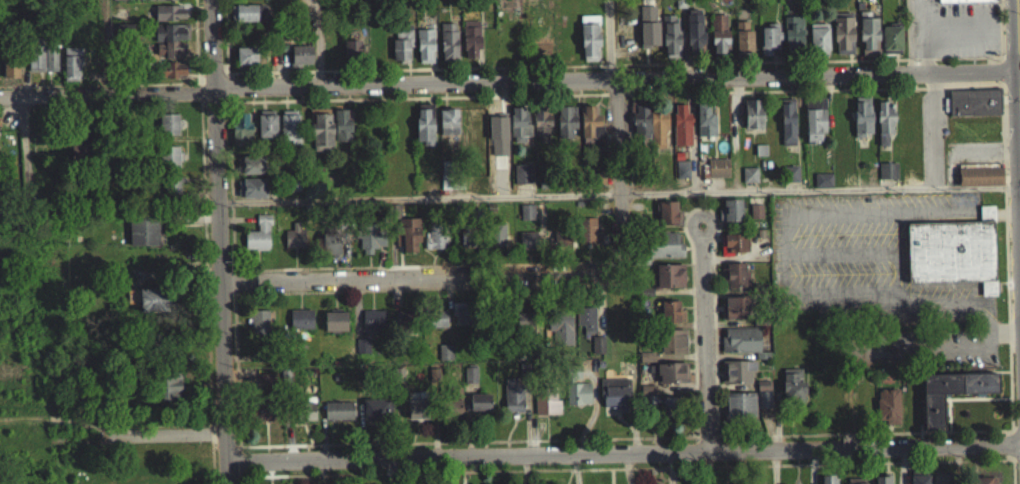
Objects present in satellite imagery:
building: (284, 0)
building: (248, 2)
building: (125, 3)
building: (165, 3)
building: (965, 4)
road: (107, 10)
building: (169, 20)
building: (245, 20)
building: (259, 20)
road: (955, 29)
road: (227, 35)
road: (918, 36)
building: (122, 38)
building: (867, 38)
road: (613, 39)
building: (693, 39)
building: (718, 41)
building: (792, 41)
building: (842, 41)
building: (670, 42)
road: (318, 43)
road: (197, 45)
building: (589, 45)
building: (470, 46)
building: (769, 46)
building: (818, 46)
building: (743, 47)
building: (891, 47)
road: (1018, 47)
building: (170, 48)
building: (448, 49)
building: (401, 52)
building: (425, 53)
building: (351, 56)
building: (300, 62)
building: (42, 65)
building: (246, 65)
building: (71, 71)
building: (10, 72)
road: (509, 80)
building: (974, 110)
building: (752, 122)
road: (938, 123)
building: (861, 124)
building: (565, 125)
building: (540, 126)
building: (640, 127)
building: (704, 127)
building: (814, 128)
building: (883, 128)
building: (424, 129)
building: (787, 129)
building: (589, 130)
building: (266, 131)
building: (448, 131)
building: (168, 132)
building: (519, 132)
building: (681, 133)
building: (289, 134)
building: (341, 134)
building: (657, 136)
building: (240, 137)
building: (320, 137)
road: (988, 146)
building: (760, 157)
building: (168, 164)
building: (252, 172)
building: (717, 175)
road: (619, 176)
building: (682, 177)
building: (887, 178)
building: (522, 181)
building: (790, 181)
building: (749, 182)
building: (979, 184)
building: (596, 185)
building: (822, 188)
building: (173, 194)
building: (253, 195)
building: (731, 217)
building: (526, 219)
building: (755, 219)
building: (666, 220)
building: (588, 238)
building: (143, 239)
road: (222, 241)
building: (258, 242)
building: (408, 242)
building: (496, 242)
building: (436, 244)
building: (466, 244)
building: (370, 245)
building: (294, 246)
building: (560, 246)
building: (527, 248)
building: (733, 251)
building: (330, 252)
building: (662, 253)
building: (952, 259)
road: (423, 277)
building: (736, 282)
building: (669, 283)
building: (153, 307)
building: (736, 315)
building: (670, 319)
building: (462, 321)
building: (437, 326)
building: (524, 326)
building: (300, 327)
building: (373, 327)
building: (586, 327)
building: (258, 329)
building: (334, 329)
building: (405, 329)
building: (560, 336)
road: (702, 336)
building: (740, 347)
building: (672, 349)
building: (597, 351)
building: (444, 360)
building: (646, 365)
building: (671, 380)
building: (738, 380)
building: (169, 393)
building: (792, 394)
building: (950, 400)
building: (577, 401)
building: (614, 403)
building: (513, 406)
building: (546, 409)
building: (762, 409)
building: (479, 410)
building: (453, 411)
building: (739, 413)
building: (887, 413)
building: (669, 414)
building: (307, 417)
building: (416, 417)
building: (260, 418)
building: (337, 418)
building: (374, 418)
road: (624, 452)
building: (941, 482)
building: (827, 483)
building: (883, 483)
building: (919, 483)

